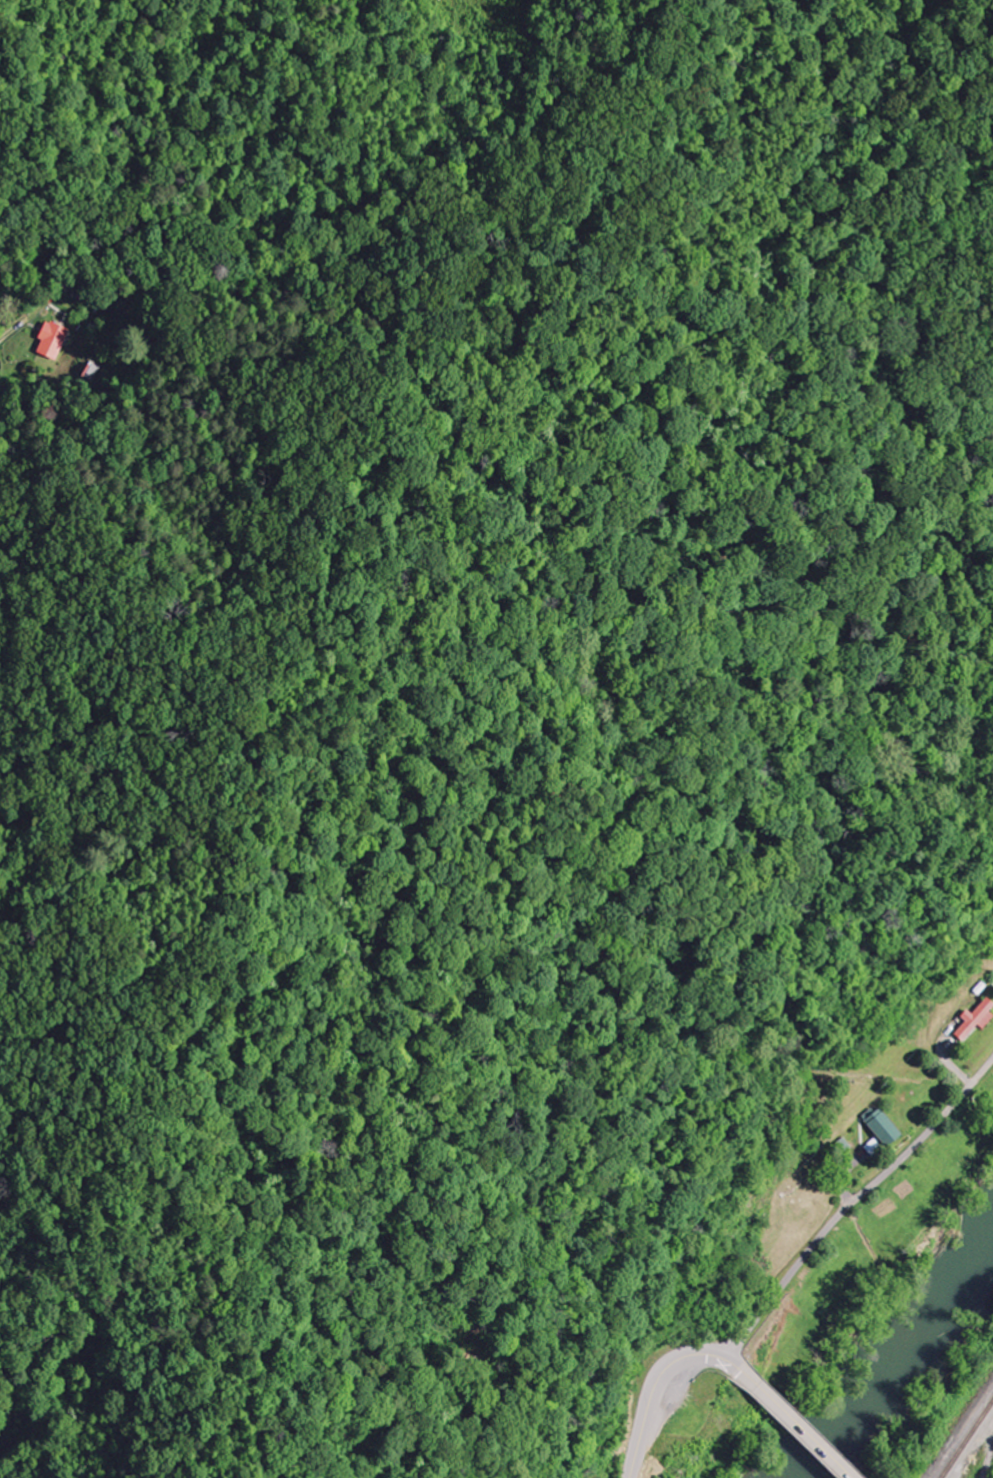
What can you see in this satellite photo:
building: (50, 339)
building: (974, 1019)
building: (881, 1127)
road: (853, 1204)
river: (893, 1336)
road: (659, 1384)
road: (795, 1423)
railway: (968, 1442)

